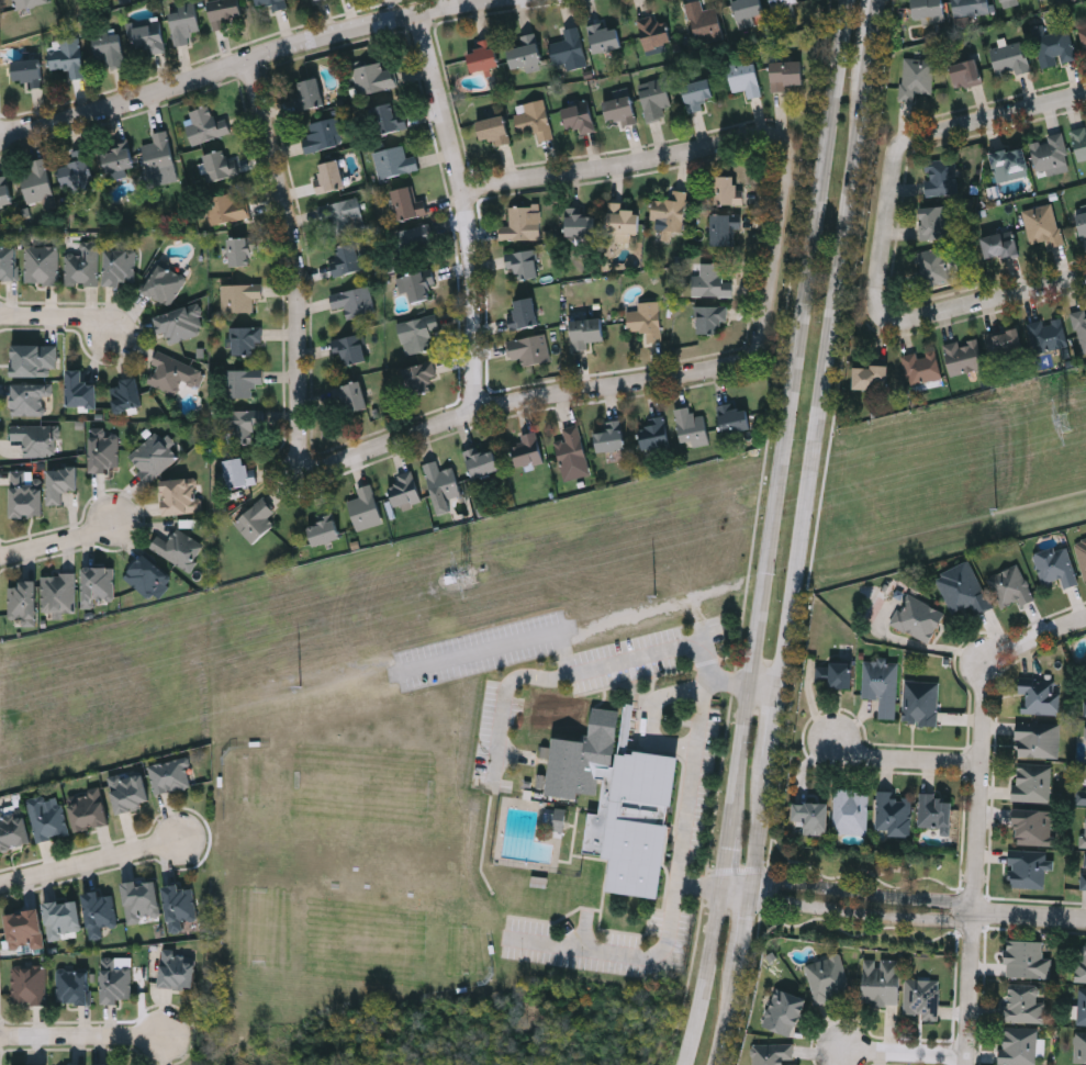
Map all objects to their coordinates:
building: (315, 0)
building: (316, 0)
building: (1004, 0)
building: (29, 2)
building: (785, 2)
building: (273, 3)
building: (970, 7)
building: (927, 8)
building: (749, 10)
building: (225, 11)
building: (704, 19)
building: (183, 20)
road: (877, 23)
building: (657, 30)
building: (1083, 34)
building: (150, 35)
building: (606, 36)
building: (1053, 46)
building: (110, 47)
building: (571, 47)
building: (527, 52)
building: (69, 55)
building: (485, 55)
road: (244, 58)
building: (1010, 59)
building: (29, 70)
building: (787, 72)
building: (965, 72)
building: (747, 76)
building: (374, 77)
building: (915, 77)
building: (312, 91)
building: (698, 92)
building: (656, 97)
building: (622, 109)
building: (581, 116)
building: (388, 117)
building: (535, 117)
building: (208, 123)
building: (495, 128)
building: (322, 135)
building: (1079, 142)
road: (728, 143)
road: (902, 147)
building: (1050, 152)
building: (160, 153)
building: (120, 159)
building: (395, 159)
building: (1009, 162)
building: (221, 165)
building: (77, 169)
building: (332, 175)
building: (941, 177)
building: (38, 181)
building: (727, 189)
building: (5, 190)
building: (406, 202)
building: (228, 208)
road: (469, 209)
building: (672, 211)
building: (345, 215)
building: (624, 217)
building: (581, 222)
building: (523, 223)
building: (932, 223)
building: (1082, 223)
building: (1042, 224)
building: (725, 229)
building: (417, 238)
building: (999, 245)
building: (240, 250)
building: (348, 257)
building: (9, 260)
building: (524, 262)
building: (43, 264)
building: (82, 265)
building: (121, 266)
building: (934, 266)
road: (294, 272)
building: (712, 280)
building: (166, 283)
building: (416, 284)
building: (240, 295)
road: (999, 296)
building: (355, 301)
building: (525, 312)
building: (712, 317)
road: (56, 318)
building: (647, 319)
building: (182, 322)
building: (1079, 328)
building: (589, 330)
building: (418, 332)
building: (1046, 334)
building: (246, 338)
building: (1006, 341)
building: (352, 348)
building: (530, 348)
building: (964, 356)
building: (35, 359)
road: (837, 366)
building: (921, 367)
building: (175, 371)
building: (419, 375)
building: (870, 375)
building: (245, 382)
building: (82, 389)
building: (127, 394)
road: (541, 394)
building: (356, 395)
building: (31, 397)
road: (781, 416)
building: (736, 417)
power tower: (1065, 423)
building: (240, 425)
building: (694, 426)
building: (656, 435)
building: (613, 436)
building: (37, 438)
building: (105, 448)
building: (529, 448)
building: (573, 448)
building: (154, 455)
building: (484, 461)
building: (239, 470)
building: (63, 482)
building: (443, 484)
building: (405, 489)
building: (27, 493)
building: (182, 494)
building: (367, 507)
building: (256, 519)
building: (325, 529)
road: (61, 542)
building: (179, 547)
building: (1081, 556)
building: (1054, 568)
power tower: (467, 574)
building: (148, 575)
building: (98, 583)
building: (1010, 586)
building: (962, 588)
building: (60, 592)
building: (24, 601)
building: (917, 617)
road: (1033, 636)
road: (500, 643)
road: (575, 672)
building: (833, 673)
building: (881, 684)
building: (1040, 697)
building: (1085, 700)
building: (920, 702)
road: (647, 717)
road: (792, 721)
building: (1037, 739)
road: (697, 740)
building: (1085, 741)
road: (903, 755)
building: (170, 774)
building: (1031, 781)
building: (130, 791)
building: (620, 797)
building: (1082, 797)
building: (88, 809)
building: (934, 810)
building: (850, 811)
building: (893, 812)
building: (811, 816)
building: (48, 817)
building: (556, 820)
road: (782, 820)
building: (1033, 826)
building: (13, 828)
building: (1084, 829)
road: (728, 855)
road: (88, 864)
road: (975, 866)
building: (1027, 867)
building: (1083, 872)
road: (708, 878)
road: (748, 879)
road: (723, 885)
road: (707, 888)
road: (771, 893)
road: (869, 893)
road: (746, 898)
building: (142, 899)
building: (180, 906)
road: (866, 910)
building: (100, 911)
road: (1025, 916)
building: (64, 918)
building: (25, 931)
road: (762, 932)
road: (622, 955)
building: (1026, 959)
building: (1081, 964)
building: (178, 969)
building: (826, 977)
road: (704, 979)
building: (880, 982)
building: (30, 984)
building: (117, 984)
building: (74, 986)
building: (920, 998)
building: (1021, 1004)
building: (1082, 1007)
building: (783, 1011)
road: (746, 1014)
road: (81, 1034)
building: (1018, 1046)
building: (1079, 1046)
building: (773, 1054)
road: (905, 1054)
building: (78, 1064)
building: (110, 1064)

